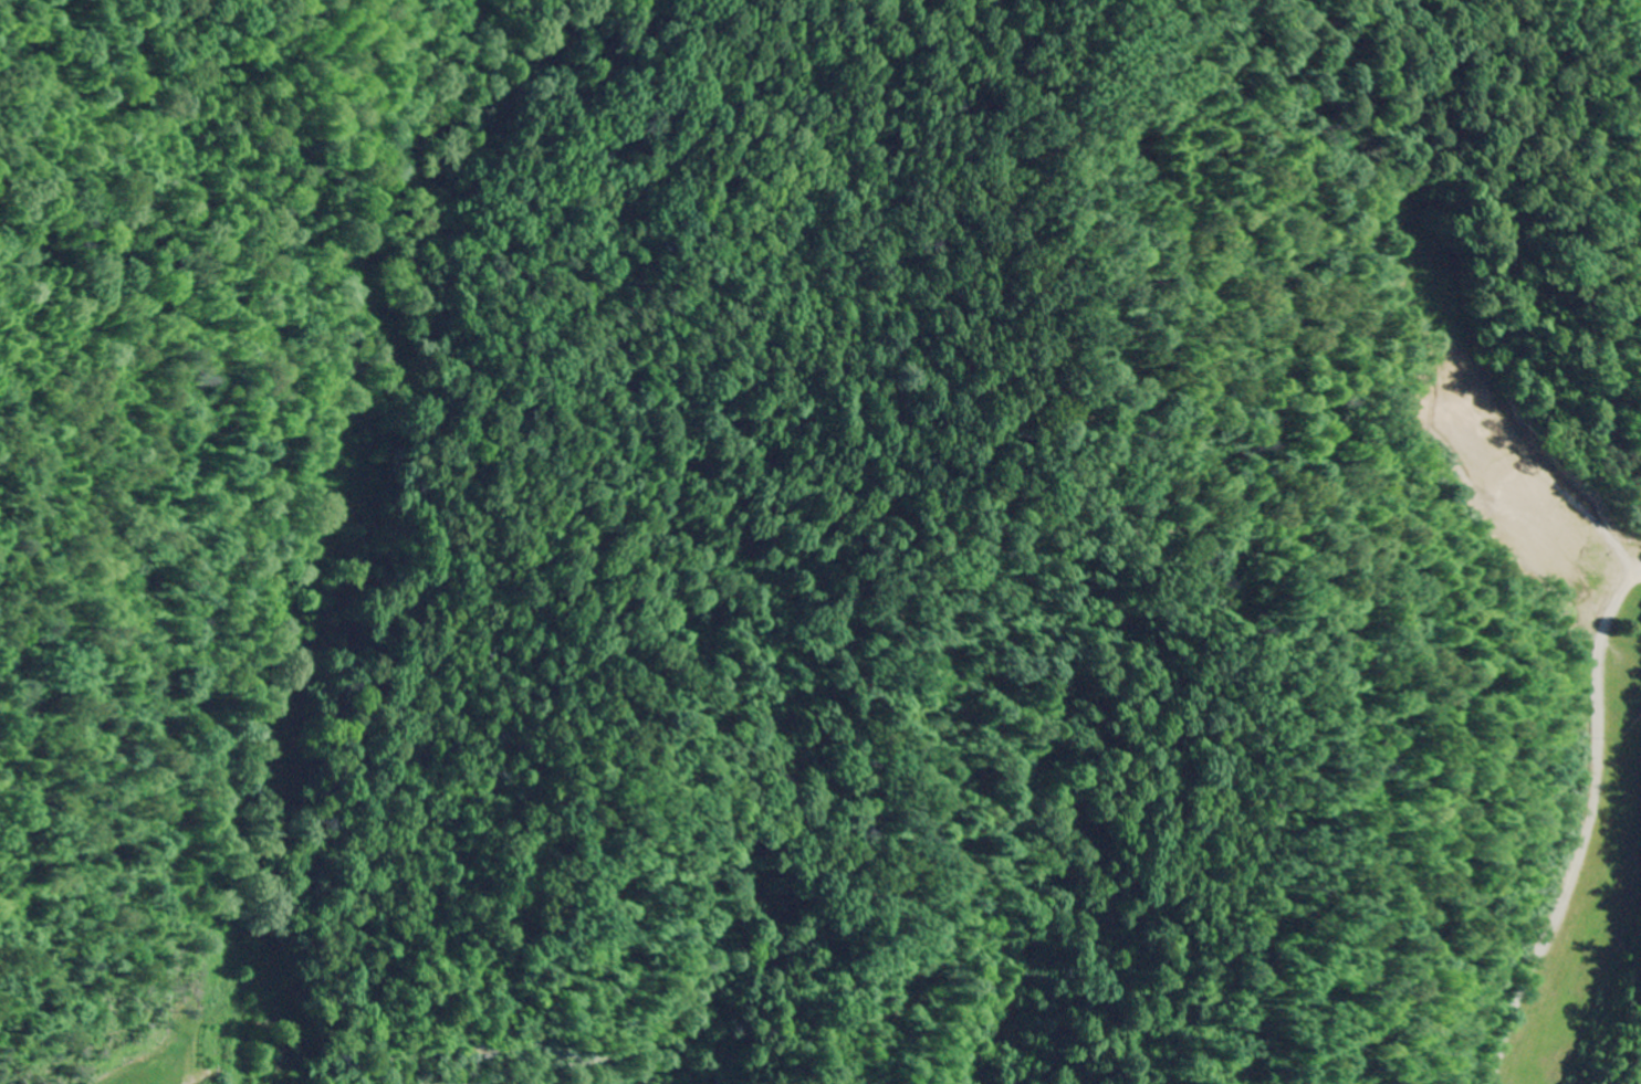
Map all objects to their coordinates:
road: (1592, 832)

